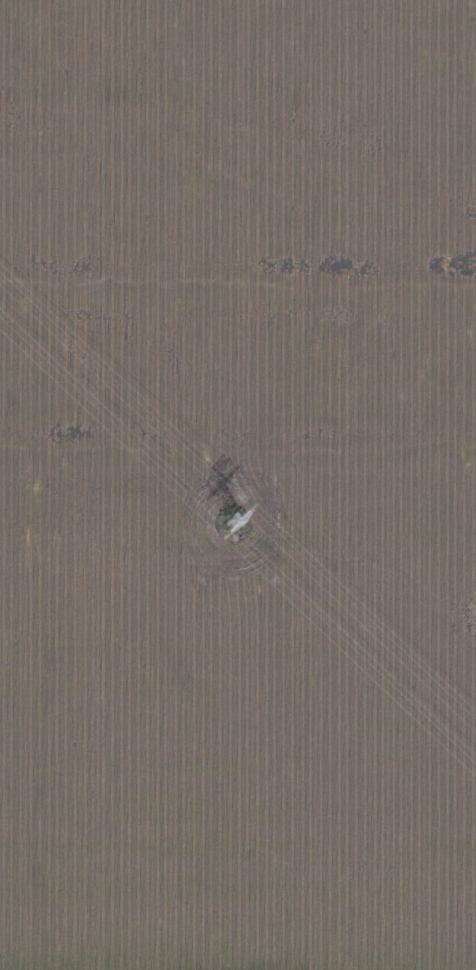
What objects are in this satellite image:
power tower: (232, 521)

